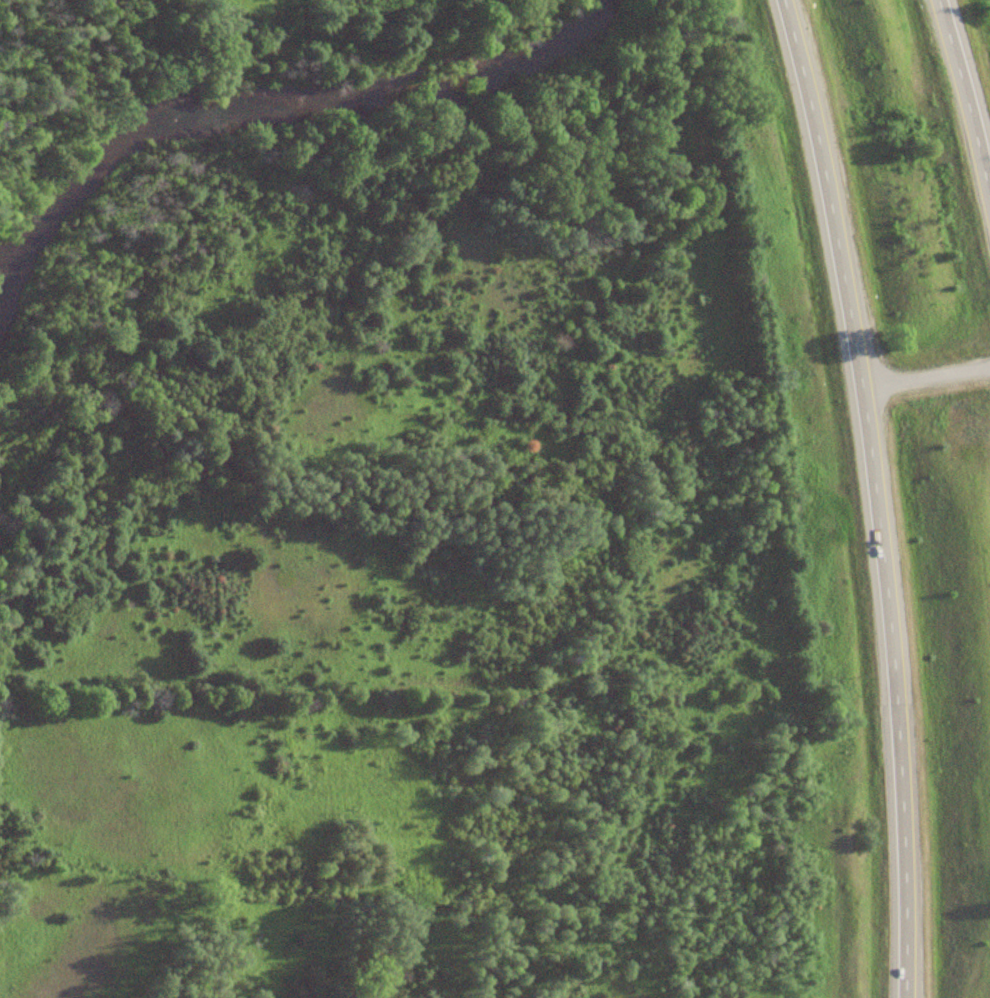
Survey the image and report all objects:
road: (965, 98)
river: (277, 105)
road: (925, 373)
road: (874, 495)

